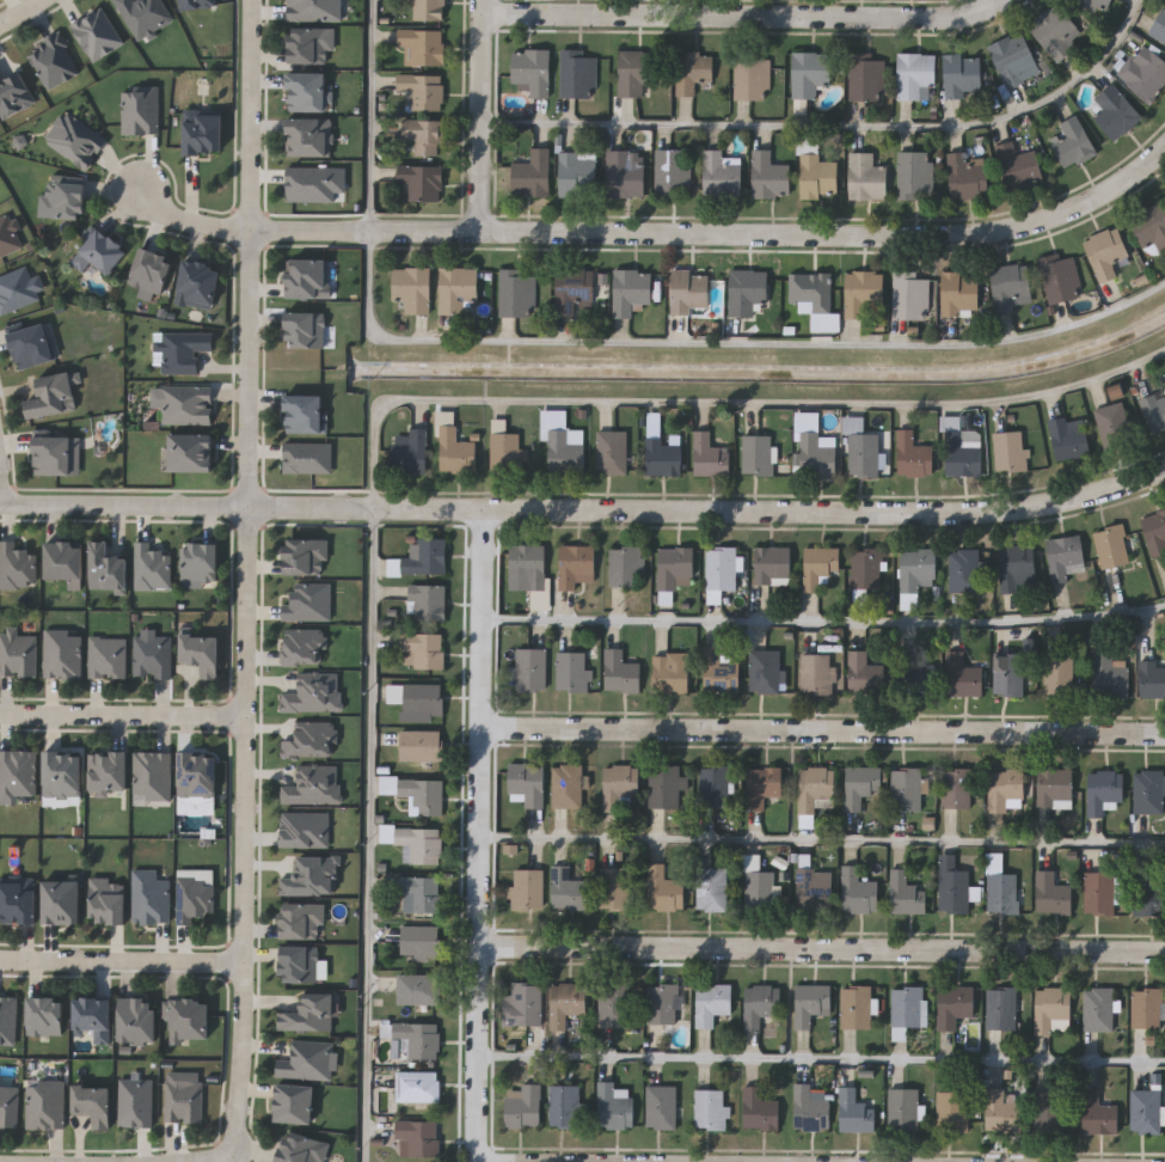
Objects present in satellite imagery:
building: (196, 4)
building: (1096, 5)
building: (315, 10)
building: (428, 10)
road: (20, 12)
building: (143, 14)
road: (746, 17)
building: (1159, 27)
building: (1057, 31)
building: (312, 45)
building: (423, 47)
building: (1016, 60)
building: (53, 61)
building: (694, 71)
building: (533, 72)
building: (636, 72)
building: (811, 73)
building: (578, 74)
building: (916, 74)
building: (1146, 74)
building: (866, 77)
building: (964, 77)
building: (753, 78)
building: (422, 91)
building: (307, 92)
building: (14, 93)
building: (140, 109)
building: (1116, 111)
road: (379, 116)
road: (483, 116)
road: (836, 127)
building: (203, 132)
building: (425, 135)
building: (309, 136)
building: (75, 139)
building: (1074, 143)
building: (1019, 166)
building: (626, 172)
building: (674, 172)
building: (533, 173)
building: (578, 173)
building: (722, 175)
building: (916, 175)
building: (771, 176)
building: (821, 176)
building: (969, 176)
building: (867, 177)
building: (422, 181)
building: (63, 197)
building: (1149, 227)
road: (247, 228)
building: (8, 234)
road: (779, 236)
building: (99, 250)
building: (1105, 251)
road: (249, 253)
building: (149, 269)
building: (1060, 276)
building: (307, 277)
building: (198, 283)
building: (1008, 285)
building: (411, 288)
building: (456, 288)
building: (571, 288)
building: (746, 288)
building: (630, 289)
building: (862, 290)
building: (515, 292)
building: (688, 292)
building: (958, 293)
building: (909, 294)
building: (813, 298)
building: (303, 329)
road: (723, 343)
building: (31, 345)
building: (183, 349)
building: (53, 395)
building: (183, 402)
road: (722, 405)
building: (1154, 411)
building: (303, 412)
building: (1112, 424)
building: (1067, 439)
building: (562, 441)
building: (814, 446)
building: (409, 449)
building: (454, 451)
building: (504, 451)
building: (1010, 451)
building: (190, 452)
building: (611, 452)
building: (962, 452)
building: (756, 453)
building: (863, 453)
building: (53, 454)
building: (709, 454)
building: (913, 454)
building: (661, 455)
road: (1, 496)
road: (186, 508)
road: (772, 513)
building: (1154, 532)
building: (1110, 545)
building: (423, 555)
building: (1065, 556)
building: (306, 557)
building: (62, 561)
building: (198, 562)
building: (526, 563)
building: (626, 563)
building: (772, 563)
building: (574, 564)
building: (818, 564)
building: (673, 565)
building: (16, 567)
building: (151, 567)
building: (719, 567)
building: (1017, 567)
building: (106, 568)
building: (865, 568)
building: (962, 569)
building: (914, 574)
building: (425, 601)
building: (307, 603)
road: (824, 619)
building: (421, 649)
building: (17, 653)
building: (62, 654)
building: (201, 654)
building: (106, 656)
building: (151, 656)
building: (529, 668)
building: (571, 671)
building: (619, 671)
building: (765, 671)
building: (669, 672)
building: (719, 672)
building: (816, 672)
building: (864, 673)
building: (1007, 673)
building: (1059, 674)
building: (1109, 674)
building: (962, 675)
building: (916, 678)
building: (1152, 678)
building: (421, 701)
road: (124, 717)
road: (824, 736)
building: (418, 745)
building: (108, 772)
building: (16, 775)
building: (61, 775)
building: (151, 776)
building: (196, 776)
building: (526, 781)
building: (618, 783)
building: (565, 784)
building: (713, 784)
building: (664, 785)
building: (762, 785)
building: (860, 785)
building: (1054, 785)
building: (815, 788)
building: (906, 788)
building: (955, 788)
building: (1005, 788)
building: (1104, 789)
building: (1148, 790)
building: (428, 796)
road: (246, 832)
road: (372, 834)
road: (485, 837)
road: (824, 840)
building: (416, 842)
building: (951, 882)
building: (1000, 885)
building: (614, 886)
building: (813, 886)
building: (528, 887)
building: (566, 888)
building: (663, 888)
building: (711, 888)
building: (759, 888)
building: (858, 889)
building: (905, 889)
building: (1104, 891)
building: (1053, 892)
building: (418, 893)
building: (1149, 894)
building: (149, 898)
building: (194, 898)
building: (18, 900)
building: (62, 901)
building: (108, 901)
building: (301, 921)
building: (419, 941)
road: (826, 955)
road: (122, 962)
building: (299, 964)
building: (417, 987)
building: (566, 1002)
building: (662, 1002)
building: (711, 1002)
building: (810, 1002)
building: (760, 1003)
building: (521, 1004)
building: (613, 1004)
building: (954, 1004)
building: (856, 1005)
building: (1000, 1007)
building: (1147, 1007)
building: (907, 1008)
building: (1098, 1008)
building: (1051, 1009)
building: (309, 1014)
building: (45, 1015)
building: (93, 1016)
building: (189, 1019)
building: (137, 1020)
building: (415, 1040)
road: (824, 1059)
building: (309, 1060)
building: (417, 1085)
building: (182, 1099)
building: (93, 1103)
building: (294, 1103)
building: (8, 1105)
building: (45, 1105)
building: (522, 1105)
building: (564, 1105)
building: (613, 1105)
building: (1056, 1105)
building: (660, 1106)
building: (710, 1108)
building: (759, 1108)
building: (809, 1108)
building: (902, 1108)
building: (1002, 1109)
building: (854, 1111)
building: (951, 1111)
building: (1146, 1111)
building: (1097, 1113)
building: (417, 1137)
building: (301, 1148)
road: (206, 1158)

